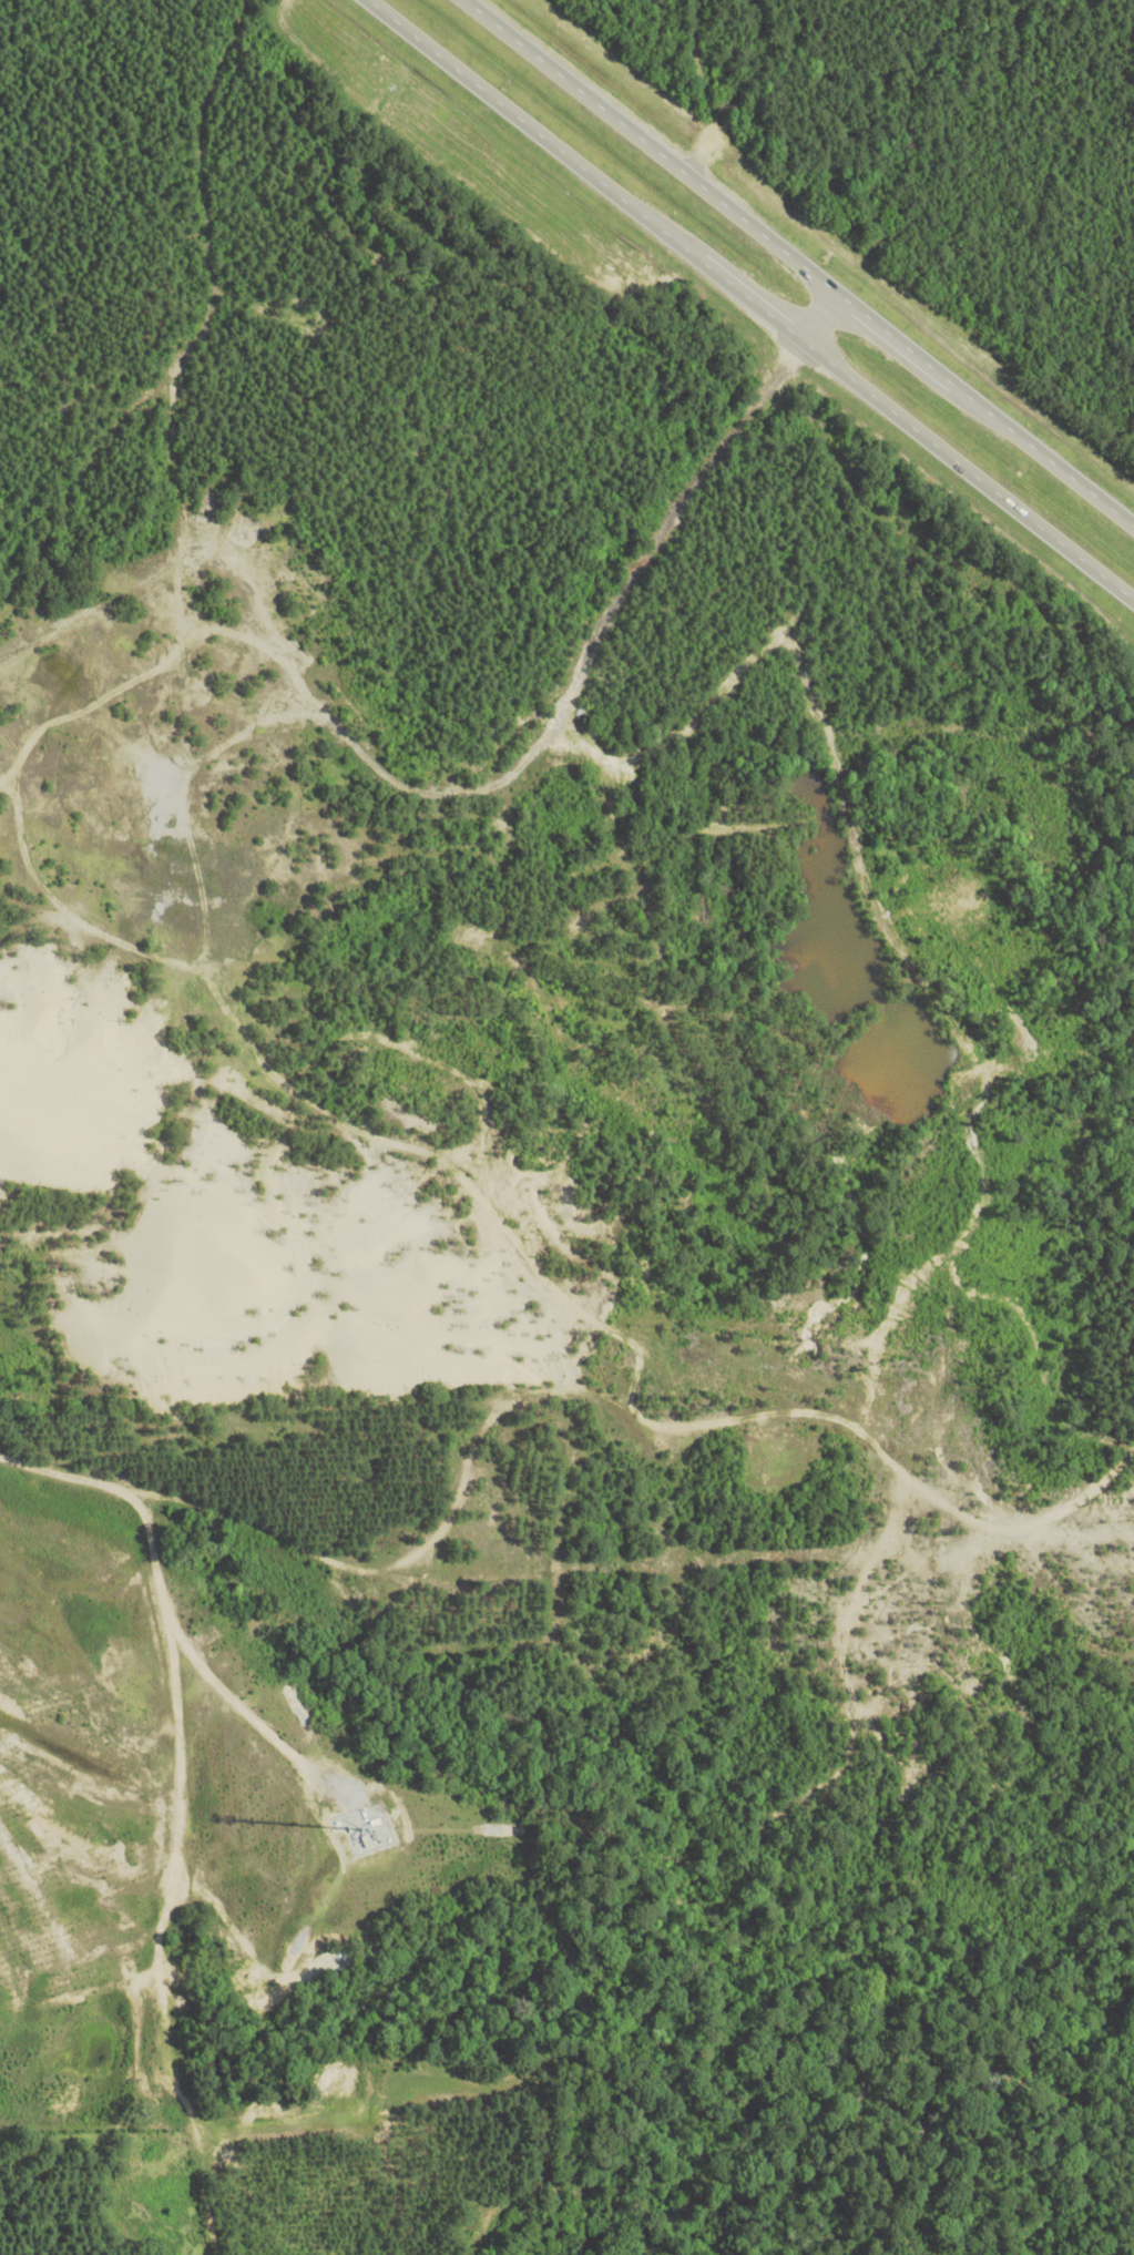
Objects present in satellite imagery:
road: (798, 262)
road: (750, 299)
road: (654, 542)

